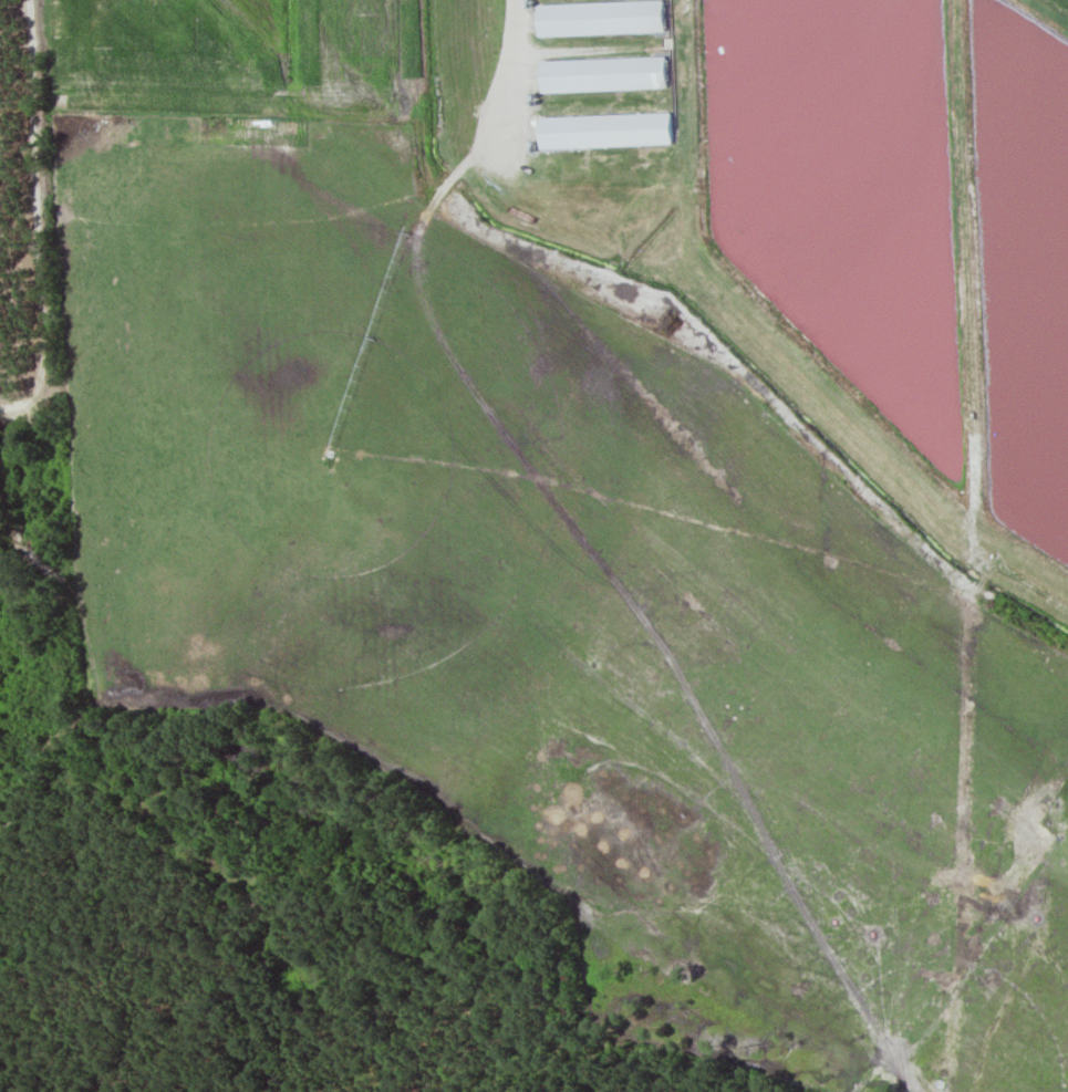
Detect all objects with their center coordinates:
building: (597, 18)
building: (599, 72)
road: (514, 74)
building: (603, 128)

